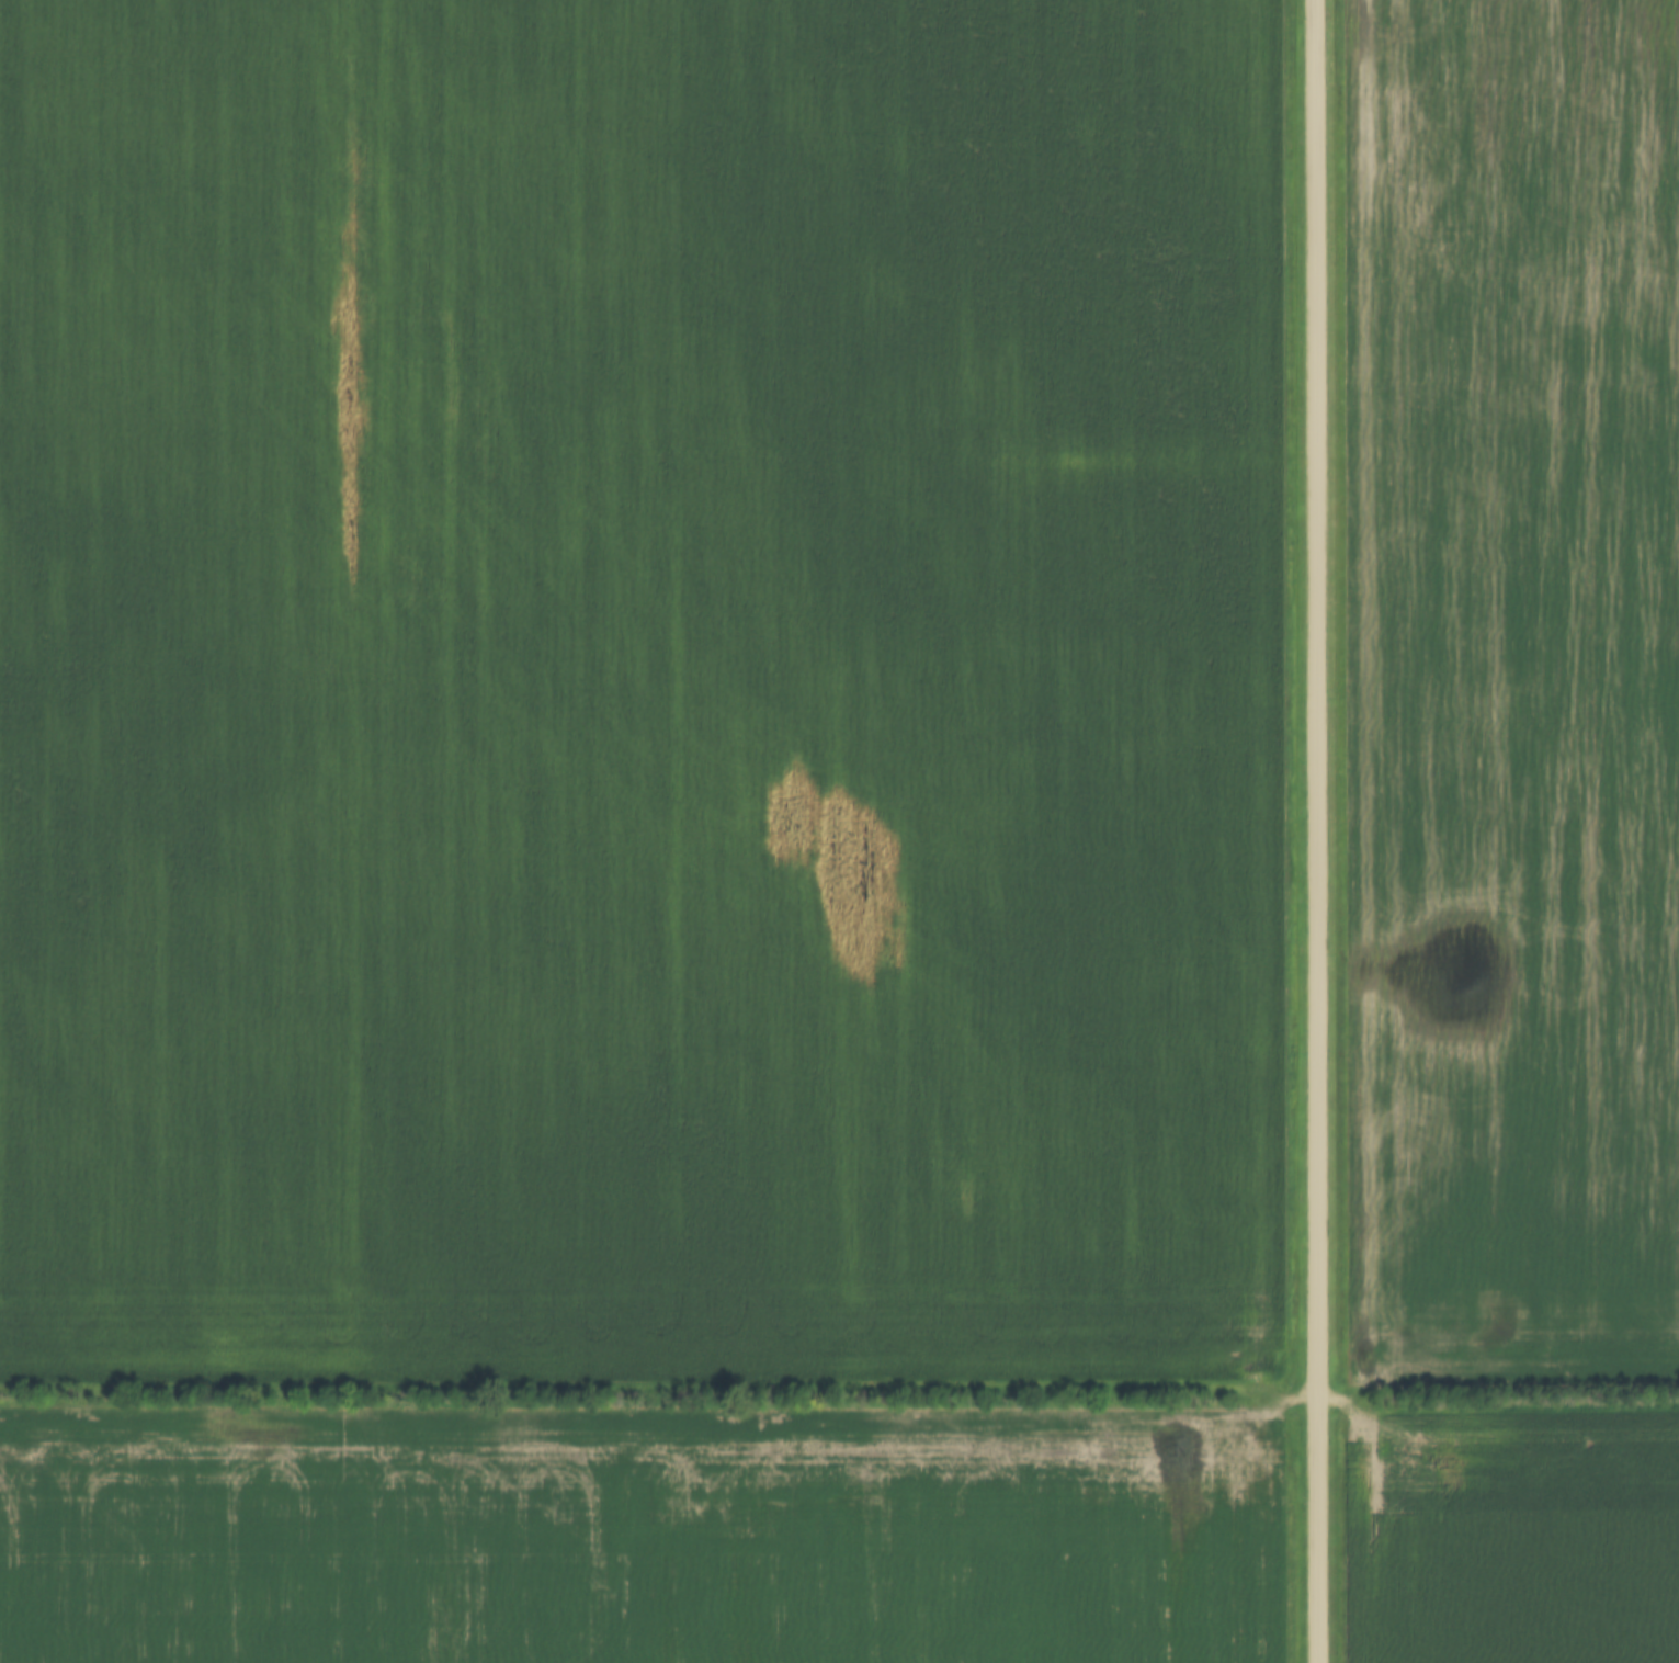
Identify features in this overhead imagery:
road: (1320, 831)
road: (1416, 1392)

